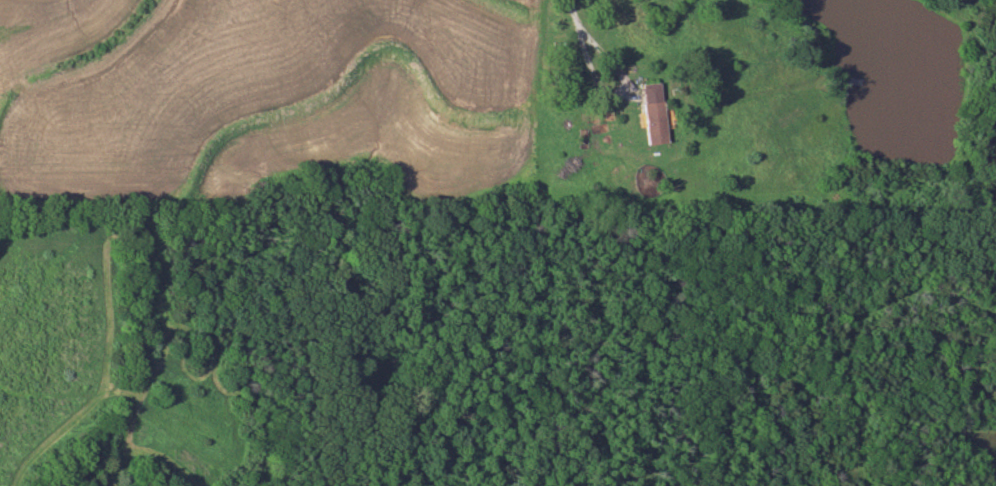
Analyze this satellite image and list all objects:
road: (590, 48)
building: (649, 111)

